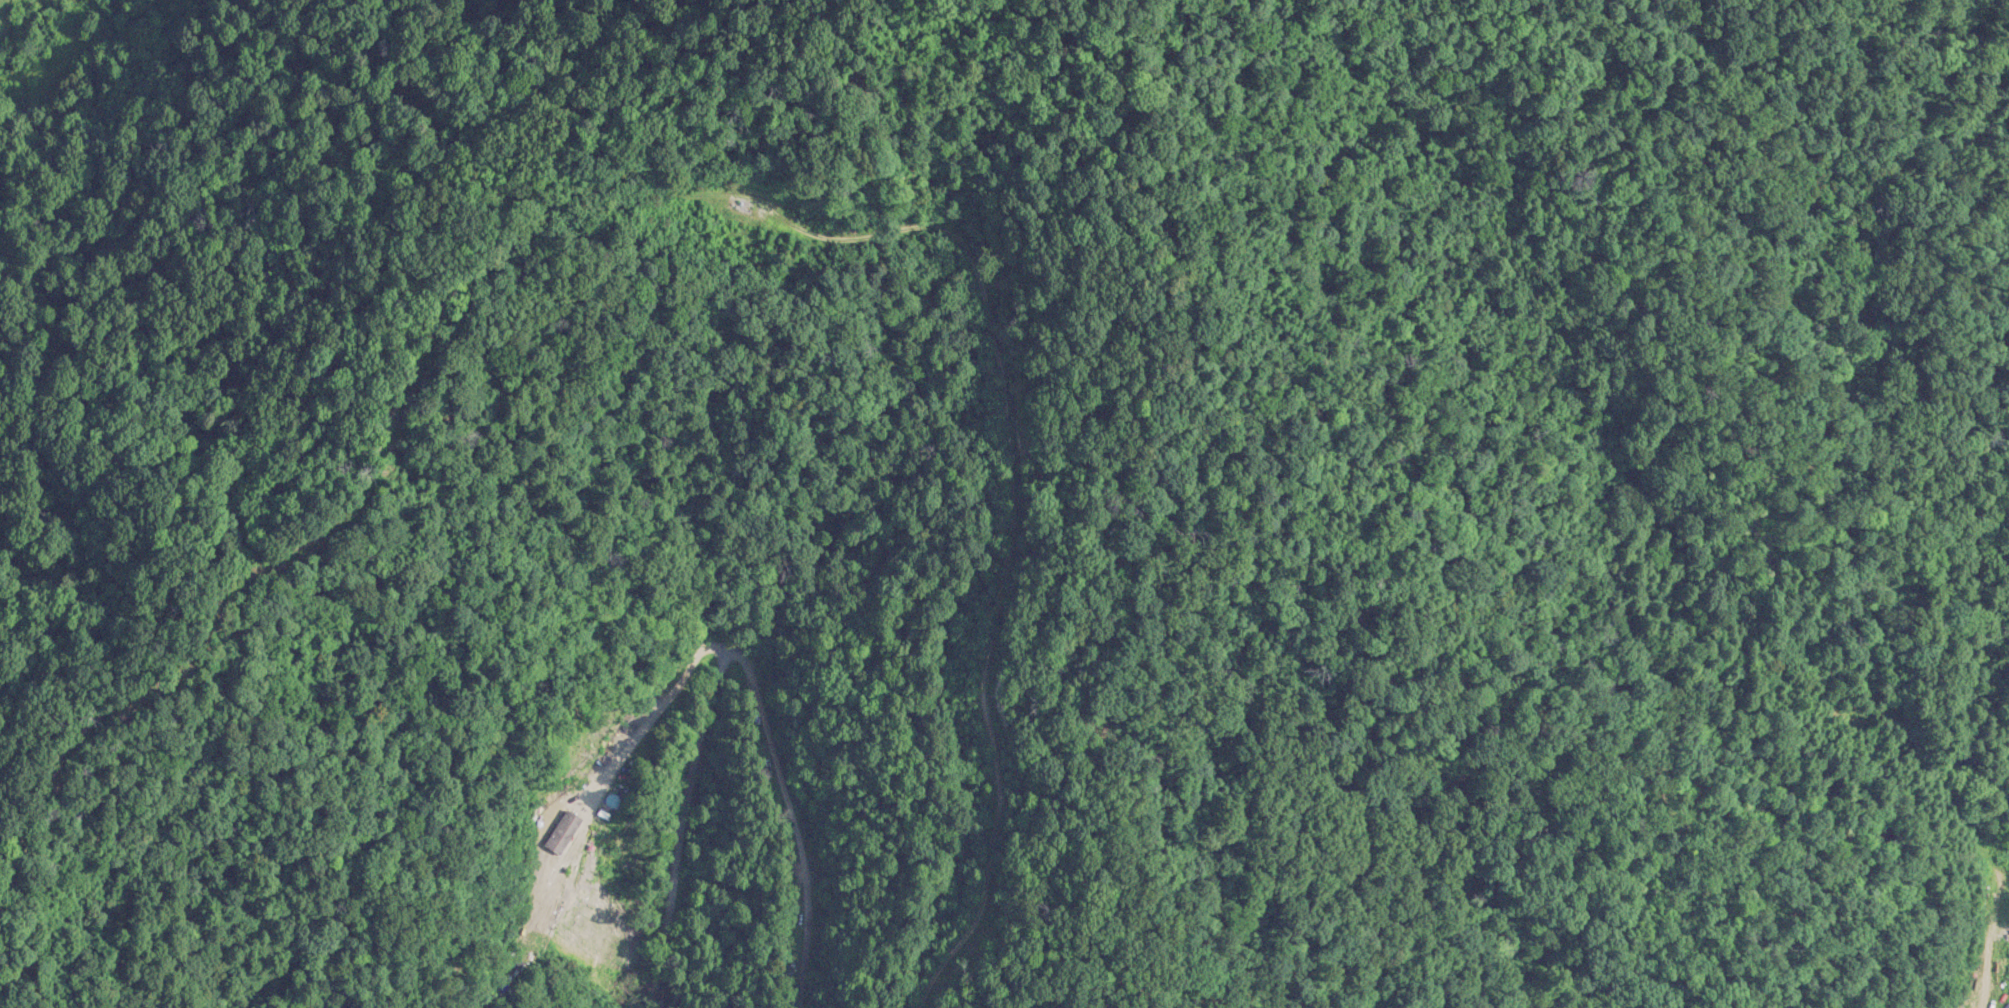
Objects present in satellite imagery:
road: (40, 55)

